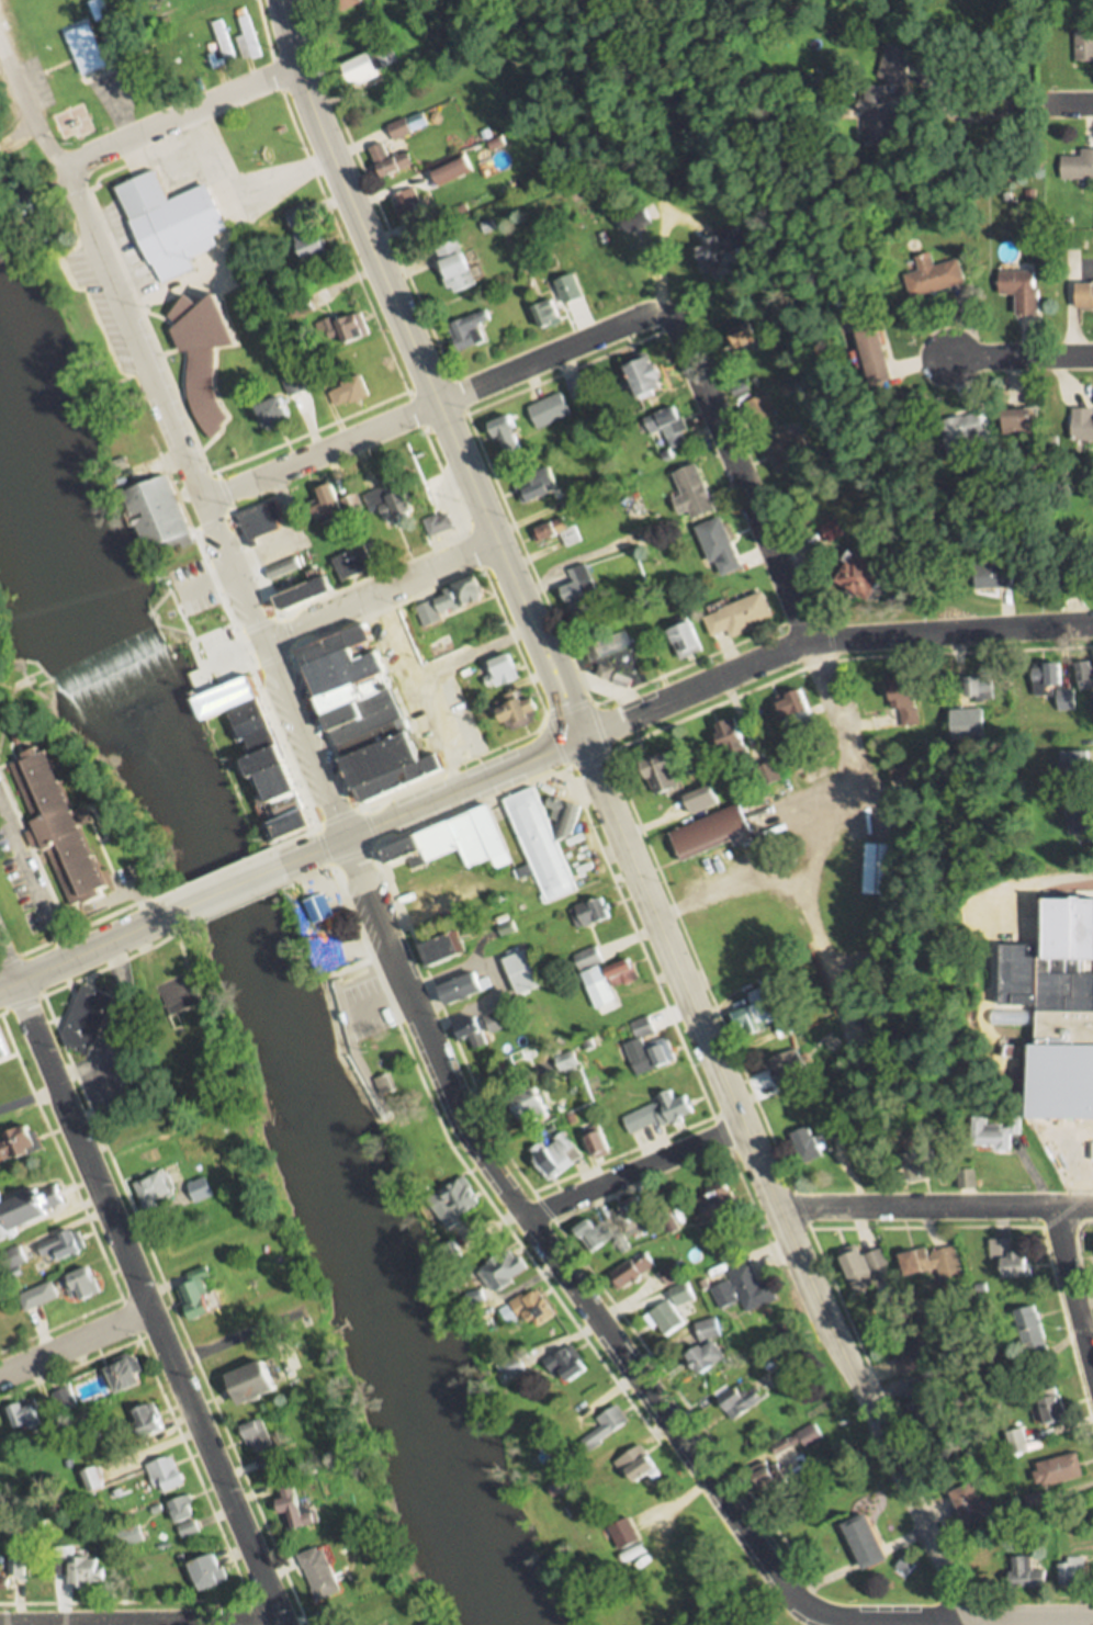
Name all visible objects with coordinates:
building: (166, 4)
building: (343, 5)
building: (100, 9)
building: (368, 35)
building: (111, 36)
building: (246, 37)
building: (221, 46)
building: (1083, 46)
building: (89, 48)
building: (195, 52)
building: (387, 56)
building: (897, 61)
building: (361, 69)
road: (939, 91)
road: (1068, 102)
building: (884, 113)
park: (16, 116)
road: (177, 119)
building: (398, 128)
road: (20, 133)
building: (388, 160)
building: (1078, 166)
building: (451, 169)
building: (31, 204)
building: (409, 210)
building: (298, 215)
building: (636, 218)
building: (174, 222)
building: (486, 225)
building: (307, 240)
building: (720, 248)
building: (457, 264)
road: (101, 268)
building: (936, 275)
building: (570, 290)
building: (1023, 290)
building: (1085, 295)
building: (297, 306)
building: (548, 313)
road: (144, 320)
building: (469, 326)
building: (341, 328)
building: (742, 342)
road: (1017, 353)
building: (206, 354)
building: (878, 354)
building: (320, 365)
road: (422, 370)
road: (563, 372)
building: (643, 375)
building: (296, 382)
building: (577, 386)
building: (742, 386)
building: (351, 391)
building: (756, 409)
building: (548, 410)
road: (422, 413)
building: (275, 414)
building: (1023, 420)
building: (1083, 424)
building: (667, 427)
road: (311, 429)
building: (509, 432)
building: (967, 433)
building: (785, 454)
road: (431, 456)
road: (489, 472)
building: (536, 485)
building: (807, 490)
building: (694, 493)
building: (391, 499)
building: (576, 500)
building: (356, 503)
building: (331, 504)
road: (255, 505)
building: (164, 515)
road: (213, 521)
building: (263, 522)
building: (442, 523)
gas station: (442, 523)
building: (830, 530)
building: (556, 533)
road: (291, 538)
building: (720, 545)
road: (775, 550)
road: (247, 557)
building: (356, 564)
building: (283, 568)
building: (995, 575)
road: (372, 577)
building: (866, 578)
road: (211, 585)
building: (1073, 588)
building: (579, 589)
parking lot: (199, 591)
building: (307, 591)
road: (379, 593)
building: (454, 607)
road: (386, 608)
building: (739, 614)
building: (430, 616)
road: (237, 629)
road: (285, 633)
building: (687, 637)
road: (826, 642)
building: (335, 646)
road: (235, 653)
parking lot: (228, 655)
road: (474, 657)
road: (842, 658)
dam: (114, 664)
building: (505, 670)
building: (606, 672)
road: (274, 673)
building: (492, 673)
building: (1085, 674)
building: (342, 675)
building: (1043, 677)
road: (604, 684)
building: (979, 688)
road: (416, 692)
building: (904, 697)
building: (232, 698)
building: (357, 698)
building: (1063, 698)
building: (1091, 704)
building: (796, 707)
building: (515, 709)
road: (566, 709)
building: (363, 714)
building: (255, 721)
building: (964, 723)
road: (600, 726)
building: (370, 727)
road: (326, 730)
building: (734, 736)
building: (374, 741)
building: (267, 744)
road: (553, 745)
road: (587, 760)
building: (269, 761)
building: (384, 763)
building: (1078, 765)
building: (660, 771)
building: (279, 777)
building: (905, 778)
building: (398, 781)
road: (463, 788)
building: (700, 799)
building: (284, 801)
building: (563, 815)
building: (1081, 820)
building: (291, 825)
building: (65, 832)
building: (717, 832)
building: (484, 836)
building: (541, 843)
building: (427, 845)
road: (757, 849)
road: (311, 855)
road: (34, 857)
parking lot: (18, 862)
road: (333, 866)
building: (878, 868)
road: (34, 881)
road: (1039, 883)
road: (219, 894)
road: (158, 898)
road: (443, 907)
building: (325, 909)
building: (590, 913)
building: (508, 928)
road: (414, 938)
road: (166, 939)
building: (448, 947)
road: (82, 952)
building: (588, 958)
road: (5, 969)
road: (700, 969)
road: (356, 971)
building: (525, 971)
building: (624, 972)
building: (461, 986)
building: (598, 988)
river: (255, 989)
building: (180, 993)
road: (124, 1000)
building: (1055, 1007)
building: (756, 1013)
road: (671, 1018)
building: (89, 1019)
building: (545, 1024)
building: (481, 1028)
building: (642, 1028)
building: (786, 1028)
building: (4, 1047)
building: (649, 1054)
park: (392, 1059)
building: (567, 1062)
building: (786, 1065)
road: (81, 1071)
parking lot: (109, 1083)
road: (115, 1103)
building: (532, 1106)
building: (662, 1113)
building: (830, 1129)
building: (1000, 1131)
building: (601, 1140)
building: (22, 1143)
building: (809, 1143)
road: (634, 1149)
parking lot: (1069, 1150)
building: (559, 1152)
road: (1075, 1160)
building: (920, 1166)
road: (467, 1170)
road: (634, 1170)
building: (967, 1177)
road: (770, 1183)
building: (157, 1188)
building: (201, 1189)
building: (715, 1200)
building: (458, 1201)
building: (27, 1207)
road: (1056, 1207)
road: (801, 1208)
road: (938, 1208)
building: (636, 1214)
building: (672, 1222)
road: (925, 1228)
building: (596, 1233)
building: (626, 1241)
building: (64, 1245)
building: (454, 1249)
road: (1078, 1253)
building: (15, 1254)
building: (1012, 1260)
building: (934, 1264)
building: (636, 1268)
building: (867, 1268)
building: (506, 1269)
building: (200, 1273)
building: (673, 1274)
road: (1074, 1279)
building: (84, 1283)
building: (746, 1288)
building: (683, 1294)
building: (41, 1295)
building: (477, 1295)
building: (199, 1299)
road: (148, 1304)
building: (537, 1306)
road: (173, 1310)
road: (594, 1311)
building: (510, 1313)
building: (669, 1317)
road: (129, 1320)
road: (60, 1323)
building: (709, 1329)
road: (1064, 1329)
building: (1035, 1335)
road: (239, 1338)
road: (76, 1344)
building: (925, 1351)
building: (712, 1357)
building: (568, 1363)
road: (80, 1364)
building: (518, 1364)
road: (658, 1366)
building: (125, 1374)
building: (252, 1384)
building: (64, 1399)
building: (741, 1402)
building: (927, 1403)
building: (1055, 1404)
building: (25, 1418)
building: (148, 1420)
road: (892, 1425)
building: (608, 1426)
building: (257, 1435)
building: (799, 1438)
building: (1023, 1441)
building: (269, 1459)
building: (638, 1464)
building: (1063, 1469)
building: (166, 1474)
building: (769, 1476)
building: (95, 1477)
building: (564, 1486)
building: (1038, 1499)
building: (971, 1505)
building: (181, 1509)
building: (295, 1510)
building: (36, 1523)
building: (188, 1527)
building: (629, 1533)
building: (133, 1536)
building: (866, 1541)
building: (906, 1564)
building: (18, 1566)
building: (79, 1567)
building: (1074, 1569)
building: (209, 1570)
building: (322, 1572)
building: (1027, 1573)
building: (5, 1583)
road: (124, 1600)
road: (1034, 1620)
road: (139, 1621)

